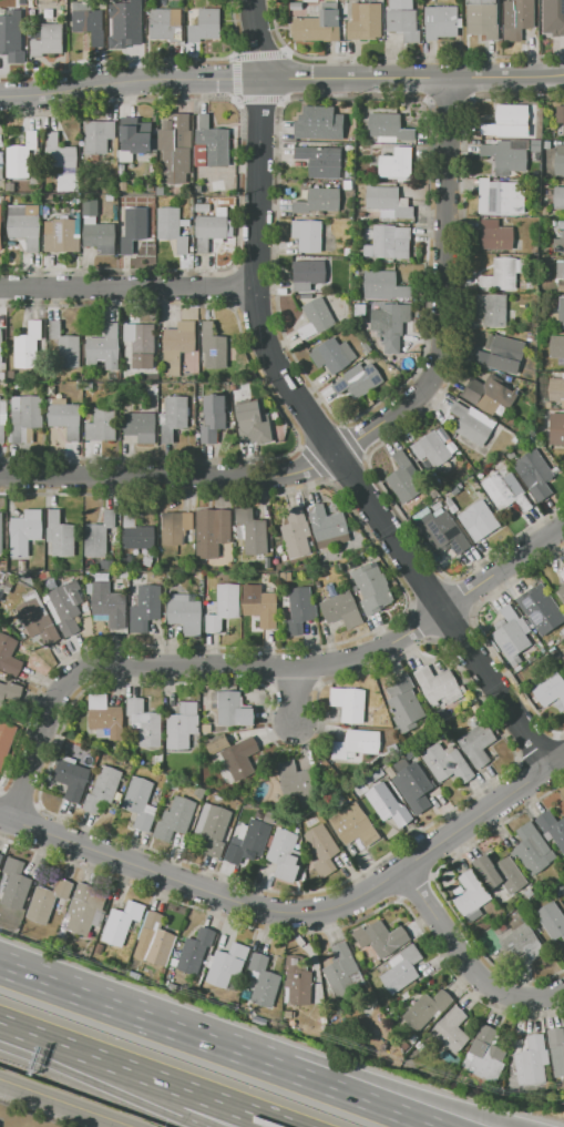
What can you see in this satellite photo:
building: (516, 16)
building: (552, 17)
building: (483, 18)
building: (403, 20)
building: (365, 21)
building: (441, 21)
building: (89, 22)
building: (124, 24)
building: (166, 24)
building: (318, 24)
building: (205, 26)
building: (11, 35)
road: (256, 38)
building: (48, 40)
road: (411, 77)
road: (129, 81)
building: (560, 114)
building: (512, 121)
building: (319, 123)
building: (389, 128)
building: (563, 132)
building: (98, 135)
building: (137, 136)
building: (212, 144)
building: (174, 149)
building: (39, 154)
building: (505, 156)
building: (320, 160)
building: (560, 161)
building: (394, 162)
building: (349, 184)
building: (10, 186)
building: (122, 186)
building: (151, 186)
building: (198, 189)
building: (160, 190)
building: (502, 197)
building: (558, 200)
building: (199, 201)
building: (319, 202)
building: (388, 202)
building: (90, 207)
building: (203, 207)
building: (185, 222)
building: (24, 226)
building: (171, 227)
building: (134, 229)
building: (213, 229)
building: (1, 230)
building: (60, 235)
building: (307, 235)
building: (495, 235)
building: (101, 237)
building: (390, 242)
building: (558, 242)
building: (356, 256)
building: (308, 274)
building: (502, 275)
building: (560, 275)
road: (127, 286)
building: (383, 286)
building: (361, 306)
building: (493, 308)
building: (557, 313)
building: (316, 318)
building: (391, 324)
building: (1, 343)
building: (141, 344)
building: (177, 345)
building: (28, 346)
building: (63, 346)
building: (556, 346)
building: (104, 347)
building: (213, 347)
building: (501, 354)
building: (332, 355)
building: (3, 365)
building: (150, 377)
building: (358, 380)
building: (19, 386)
building: (556, 389)
building: (51, 390)
building: (486, 393)
building: (547, 405)
building: (25, 415)
building: (65, 417)
building: (174, 417)
building: (213, 417)
building: (546, 418)
building: (252, 423)
building: (473, 423)
building: (100, 424)
building: (2, 426)
building: (140, 426)
road: (370, 427)
building: (556, 428)
building: (450, 445)
road: (329, 446)
building: (431, 448)
building: (512, 456)
building: (535, 475)
building: (403, 478)
building: (505, 489)
building: (434, 495)
building: (452, 505)
building: (438, 506)
building: (479, 520)
building: (175, 526)
building: (328, 527)
building: (24, 530)
building: (135, 531)
building: (250, 531)
building: (1, 532)
building: (296, 532)
building: (60, 534)
building: (214, 534)
building: (447, 534)
building: (99, 535)
building: (275, 542)
building: (147, 561)
building: (106, 563)
building: (202, 567)
building: (563, 569)
building: (124, 575)
building: (235, 575)
building: (562, 575)
building: (250, 576)
building: (287, 577)
building: (317, 583)
building: (7, 586)
building: (372, 588)
building: (561, 592)
building: (107, 605)
building: (260, 605)
building: (145, 607)
building: (224, 607)
building: (65, 608)
building: (541, 608)
building: (296, 609)
building: (342, 609)
building: (184, 613)
building: (41, 618)
building: (561, 632)
building: (511, 634)
building: (9, 656)
building: (563, 656)
road: (262, 666)
building: (517, 668)
building: (439, 684)
building: (550, 689)
building: (10, 692)
road: (298, 697)
building: (349, 703)
building: (404, 703)
building: (232, 708)
building: (475, 708)
building: (103, 717)
building: (144, 723)
building: (182, 724)
building: (205, 727)
building: (6, 742)
building: (218, 744)
building: (476, 745)
building: (356, 747)
building: (410, 753)
building: (240, 757)
building: (157, 758)
building: (447, 763)
building: (389, 770)
building: (228, 775)
building: (373, 775)
building: (71, 776)
building: (296, 779)
building: (412, 784)
building: (103, 789)
building: (199, 791)
building: (140, 803)
building: (388, 804)
building: (176, 818)
building: (269, 818)
building: (279, 822)
building: (353, 825)
building: (552, 828)
building: (212, 830)
building: (247, 841)
building: (322, 850)
building: (532, 850)
building: (285, 855)
building: (1, 856)
building: (501, 873)
building: (13, 884)
building: (560, 887)
building: (458, 890)
building: (471, 893)
building: (529, 893)
building: (48, 900)
building: (85, 908)
building: (516, 914)
road: (296, 915)
building: (474, 916)
building: (552, 920)
building: (122, 922)
building: (382, 938)
building: (153, 941)
building: (523, 942)
building: (99, 948)
building: (195, 950)
building: (227, 965)
road: (463, 966)
building: (402, 969)
building: (342, 971)
building: (263, 981)
building: (297, 981)
road: (111, 1006)
building: (428, 1007)
building: (287, 1013)
building: (324, 1021)
building: (451, 1029)
building: (324, 1036)
road: (73, 1047)
building: (556, 1050)
building: (485, 1055)
building: (450, 1059)
building: (532, 1059)
road: (375, 1078)
road: (328, 1087)
road: (218, 1100)
road: (63, 1104)
road: (178, 1108)

